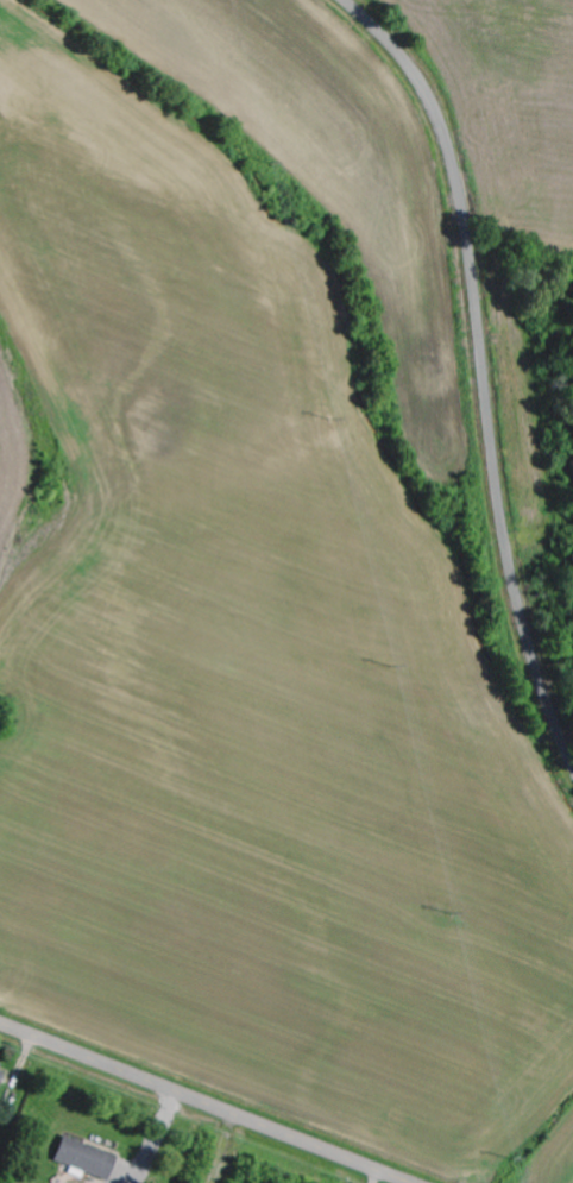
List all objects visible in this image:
road: (483, 367)
building: (4, 1076)
road: (203, 1103)
building: (90, 1158)

